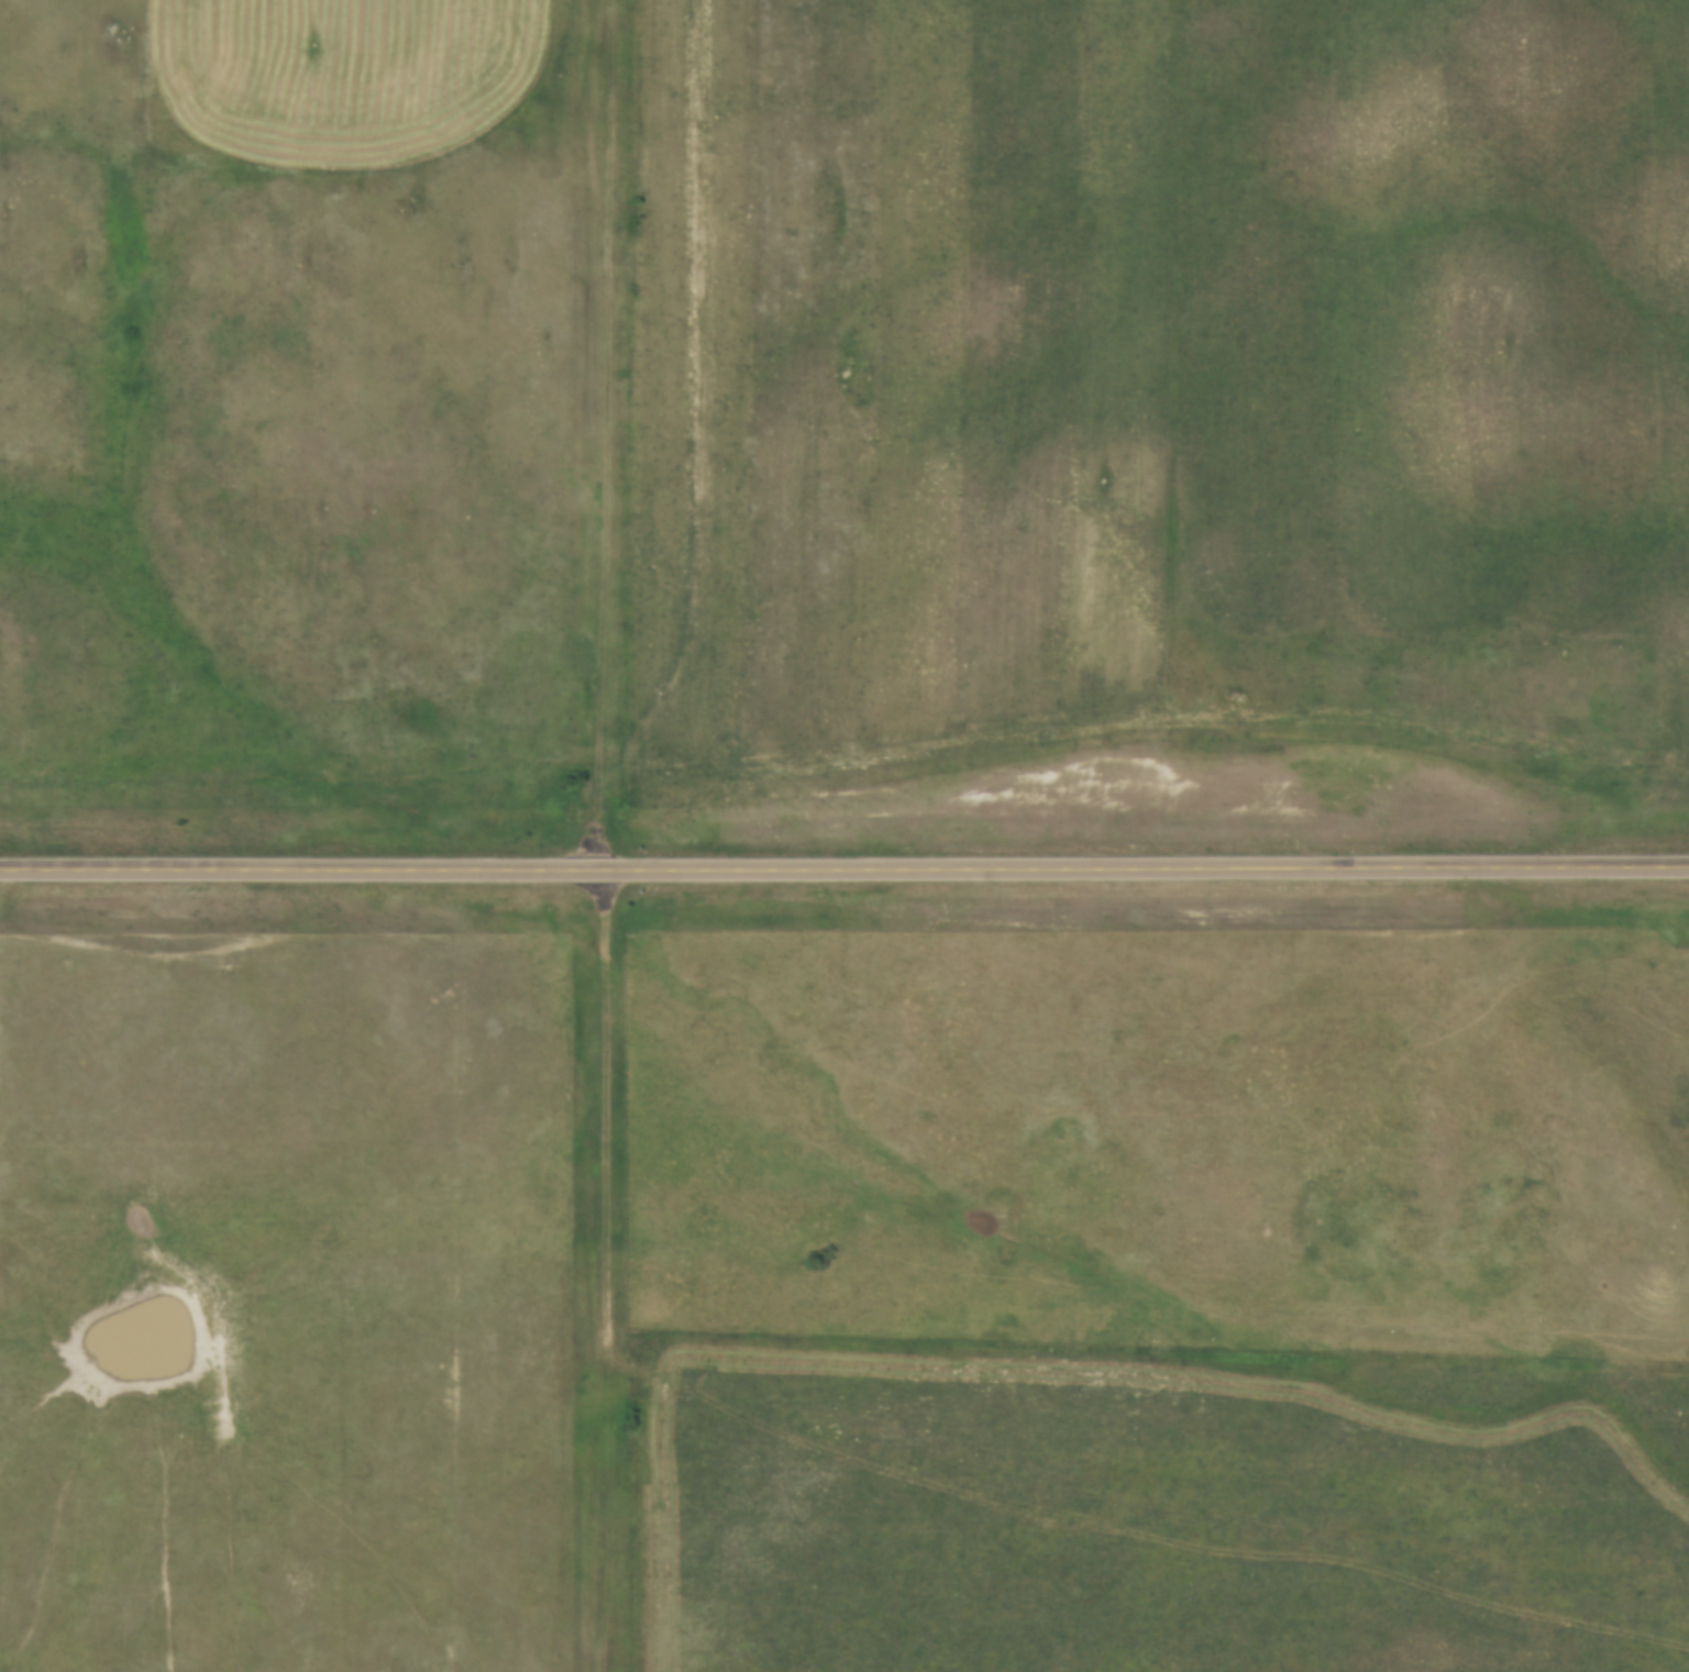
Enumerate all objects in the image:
road: (603, 835)
road: (844, 872)

